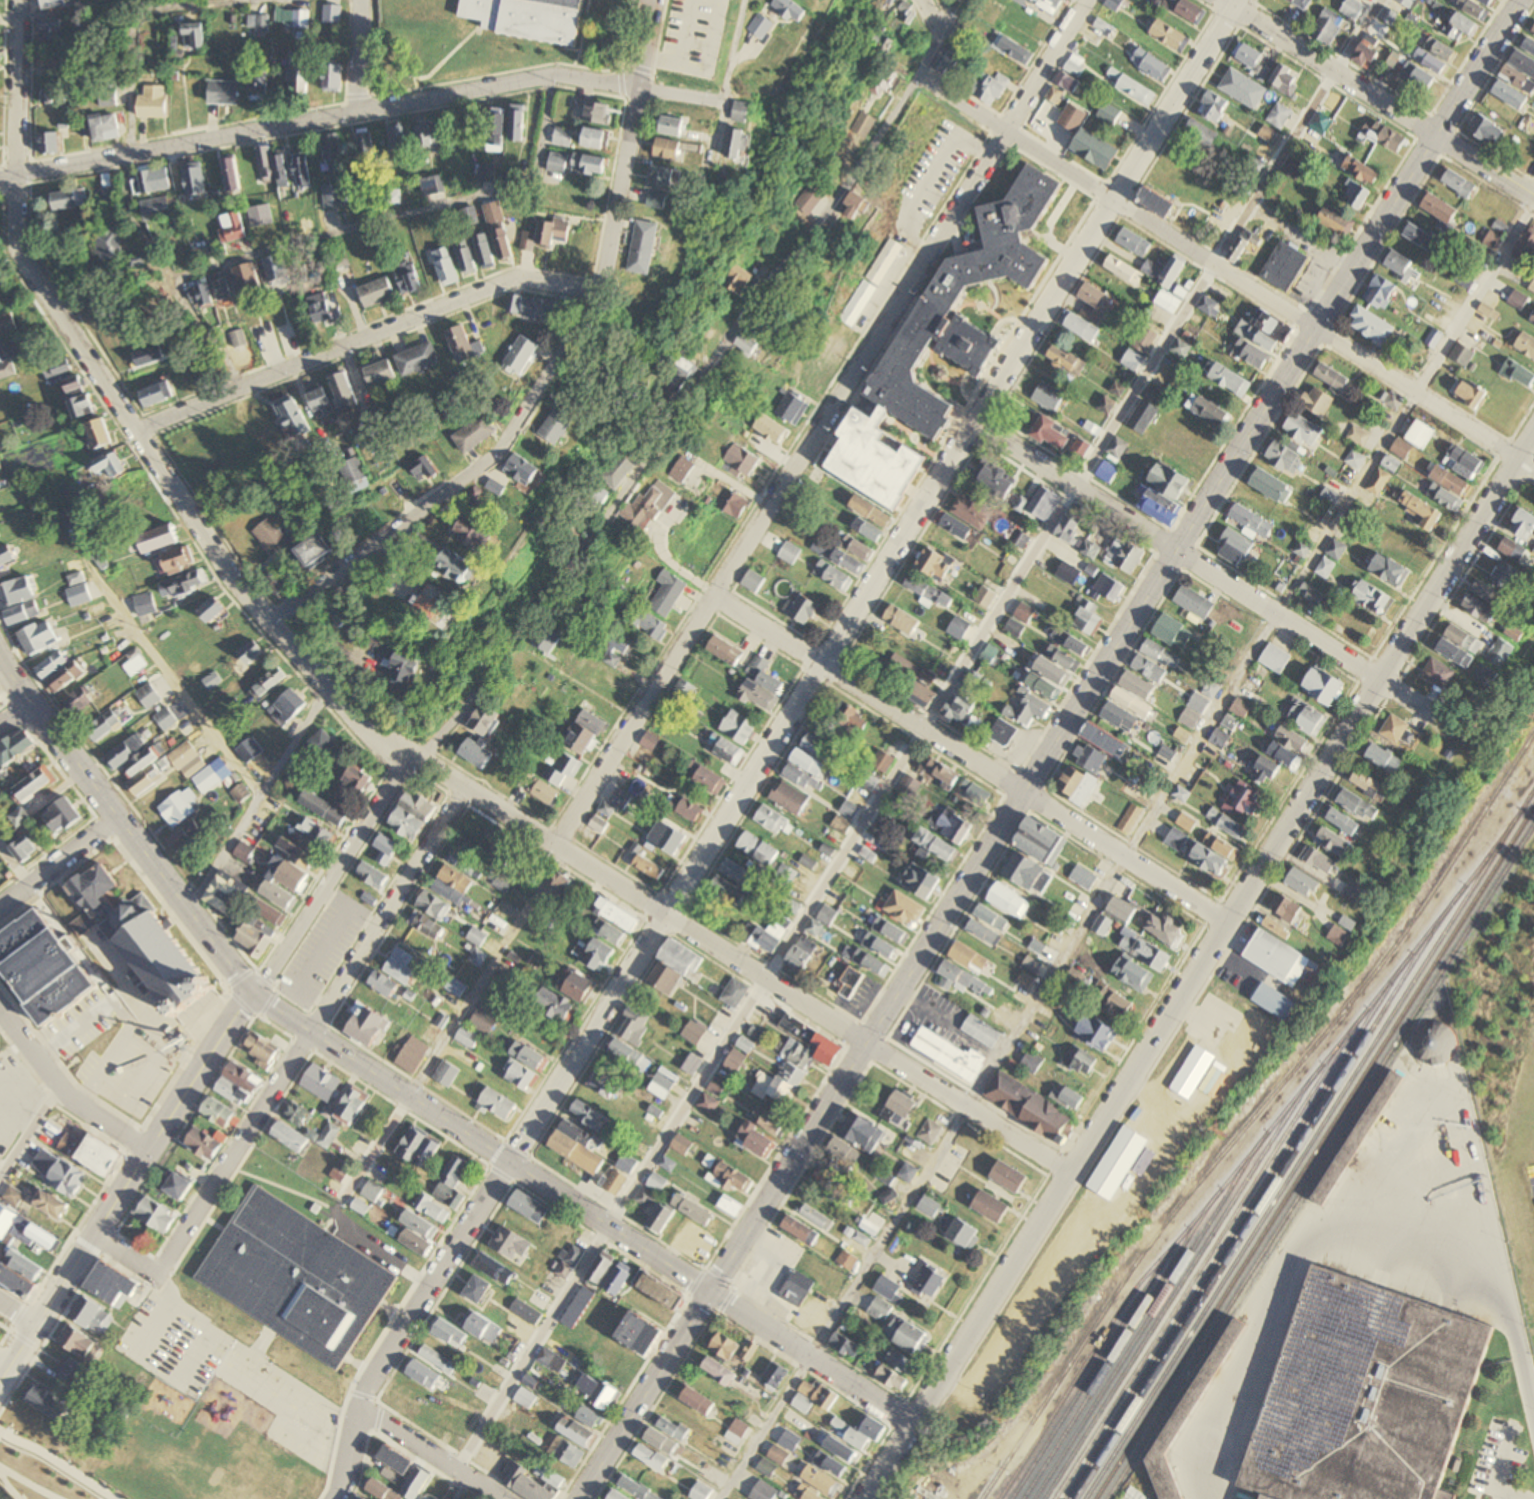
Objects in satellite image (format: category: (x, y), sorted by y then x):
building: (1488, 2)
building: (1407, 3)
building: (54, 4)
building: (1301, 4)
road: (931, 15)
building: (529, 18)
road: (937, 37)
road: (732, 52)
road: (358, 56)
road: (1478, 68)
road: (1328, 69)
road: (10, 89)
road: (361, 111)
road: (126, 151)
road: (537, 155)
road: (1485, 168)
road: (325, 238)
road: (1228, 272)
road: (365, 338)
road: (551, 367)
road: (819, 420)
road: (673, 422)
road: (1203, 568)
road: (15, 713)
road: (920, 735)
road: (771, 743)
road: (971, 758)
road: (436, 771)
road: (256, 802)
road: (1005, 817)
road: (122, 826)
road: (1129, 851)
road: (57, 862)
road: (14, 864)
road: (329, 873)
building: (92, 897)
building: (156, 952)
building: (43, 966)
road: (1199, 966)
traffic signals: (250, 992)
road: (142, 1009)
road: (3, 1021)
road: (454, 1022)
road: (134, 1027)
road: (74, 1029)
road: (310, 1031)
road: (303, 1044)
road: (34, 1053)
road: (106, 1064)
road: (139, 1085)
road: (53, 1101)
road: (196, 1104)
road: (401, 1107)
railway: (1255, 1114)
road: (108, 1122)
road: (28, 1128)
road: (132, 1138)
building: (1358, 1138)
railway: (1309, 1144)
road: (223, 1146)
road: (495, 1151)
railway: (1253, 1151)
building: (86, 1152)
railway: (1314, 1153)
railway: (1320, 1161)
road: (500, 1172)
parking lot: (1530, 1179)
road: (125, 1184)
road: (287, 1188)
road: (216, 1200)
road: (581, 1206)
road: (339, 1208)
road: (453, 1218)
railway: (1249, 1218)
road: (75, 1227)
road: (600, 1236)
road: (84, 1244)
road: (106, 1244)
road: (135, 1244)
road: (370, 1244)
parking lot: (368, 1245)
railway: (1222, 1247)
road: (123, 1254)
road: (1498, 1258)
road: (163, 1261)
road: (172, 1267)
railway: (1198, 1269)
road: (1287, 1270)
building: (293, 1275)
road: (415, 1275)
building: (113, 1276)
road: (696, 1281)
road: (162, 1286)
building: (101, 1288)
road: (12, 1292)
road: (441, 1293)
railway: (1172, 1293)
road: (387, 1306)
building: (93, 1307)
road: (17, 1311)
road: (17, 1312)
road: (190, 1314)
railway: (1148, 1316)
building: (85, 1319)
road: (389, 1321)
road: (4, 1326)
park: (5, 1331)
road: (6, 1331)
road: (11, 1331)
road: (49, 1331)
railway: (1123, 1338)
road: (25, 1339)
building: (77, 1343)
parking lot: (174, 1343)
road: (37, 1347)
road: (245, 1355)
road: (3, 1363)
railway: (1096, 1363)
building: (74, 1373)
road: (350, 1390)
road: (362, 1393)
road: (624, 1395)
building: (1366, 1396)
road: (374, 1398)
road: (4, 1401)
building: (47, 1402)
building: (125, 1407)
road: (378, 1416)
building: (1189, 1416)
road: (338, 1420)
street lamp: (0, 1421)
street lamp: (34, 1439)
road: (431, 1451)
road: (453, 1451)
park: (46, 1458)
street lamp: (68, 1460)
road: (361, 1460)
road: (1503, 1460)
road: (57, 1461)
road: (60, 1462)
road: (428, 1465)
road: (29, 1482)
street lamp: (103, 1483)
road: (24, 1484)
road: (9, 1486)
road: (960, 1486)
road: (463, 1488)
road: (1510, 1492)

